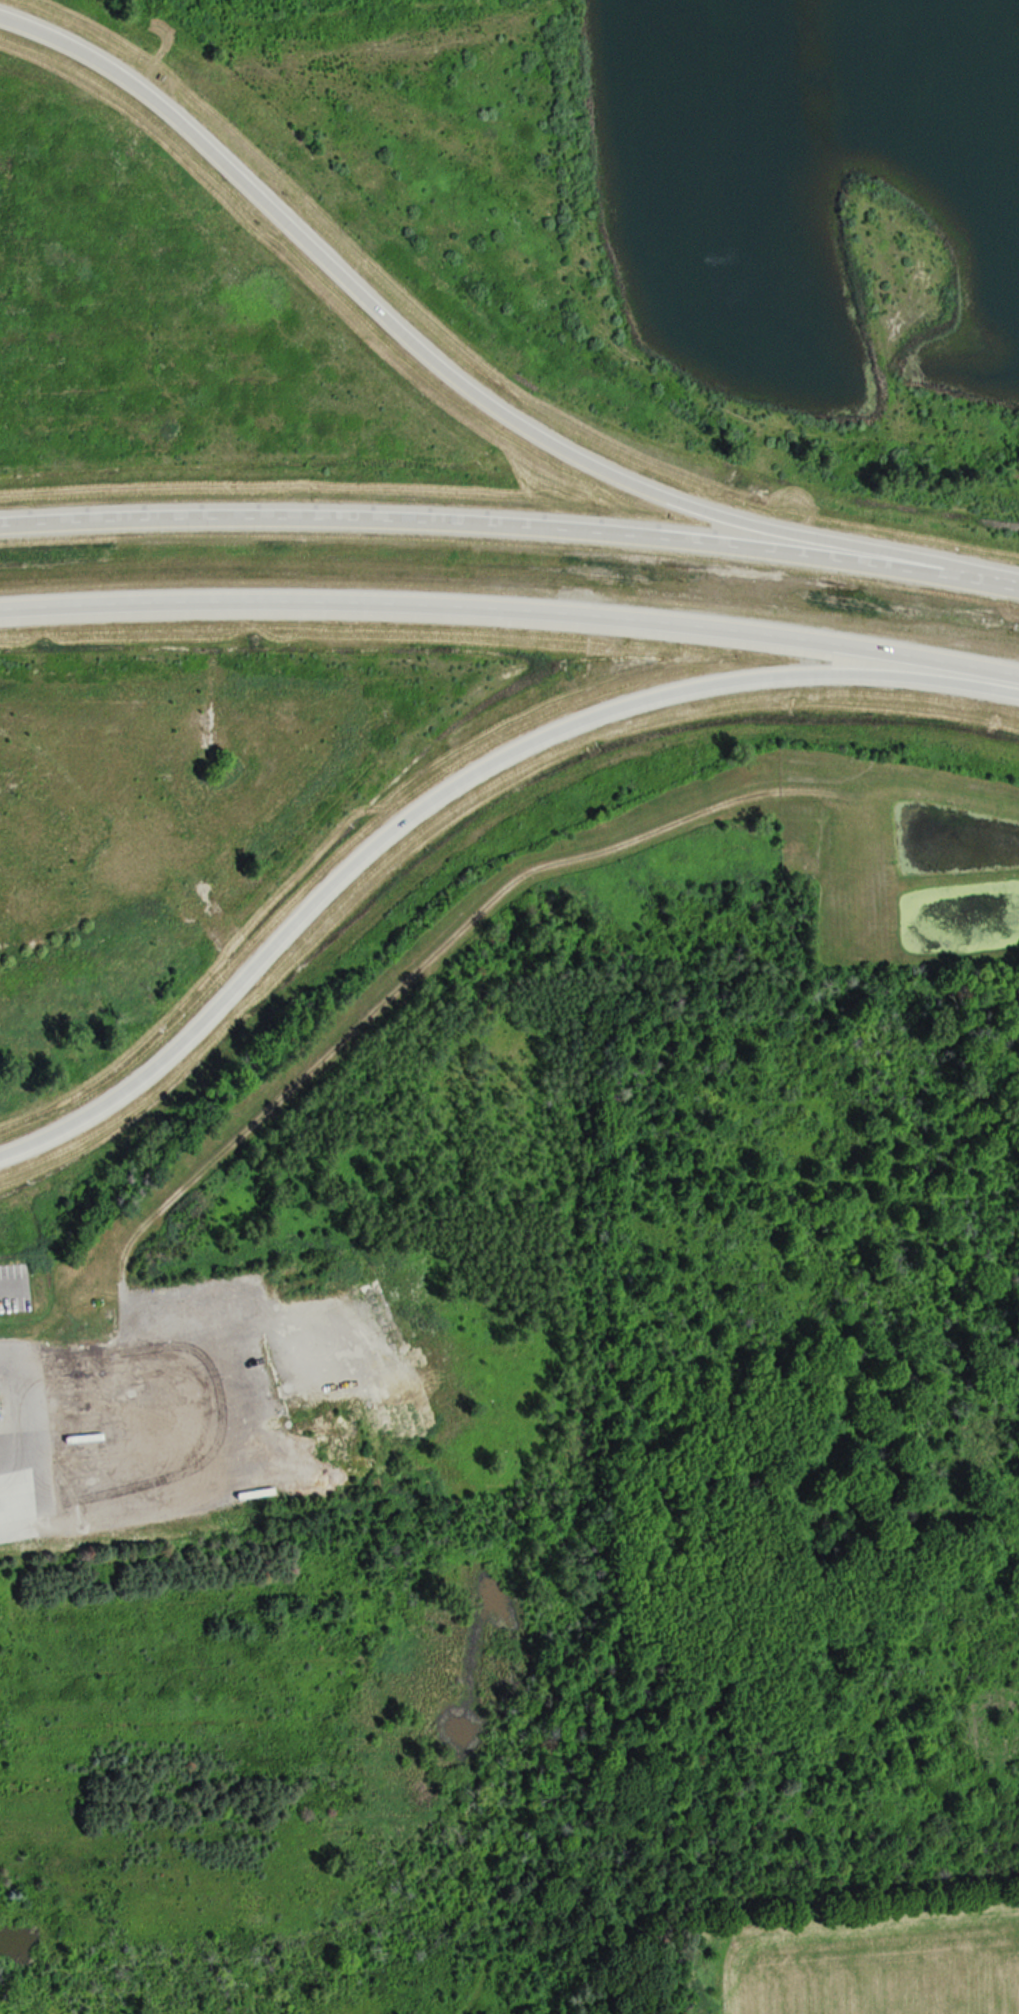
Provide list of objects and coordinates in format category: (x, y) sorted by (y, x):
road: (451, 378)
road: (511, 526)
road: (511, 609)
road: (455, 784)
road: (6, 1293)
road: (10, 1427)

